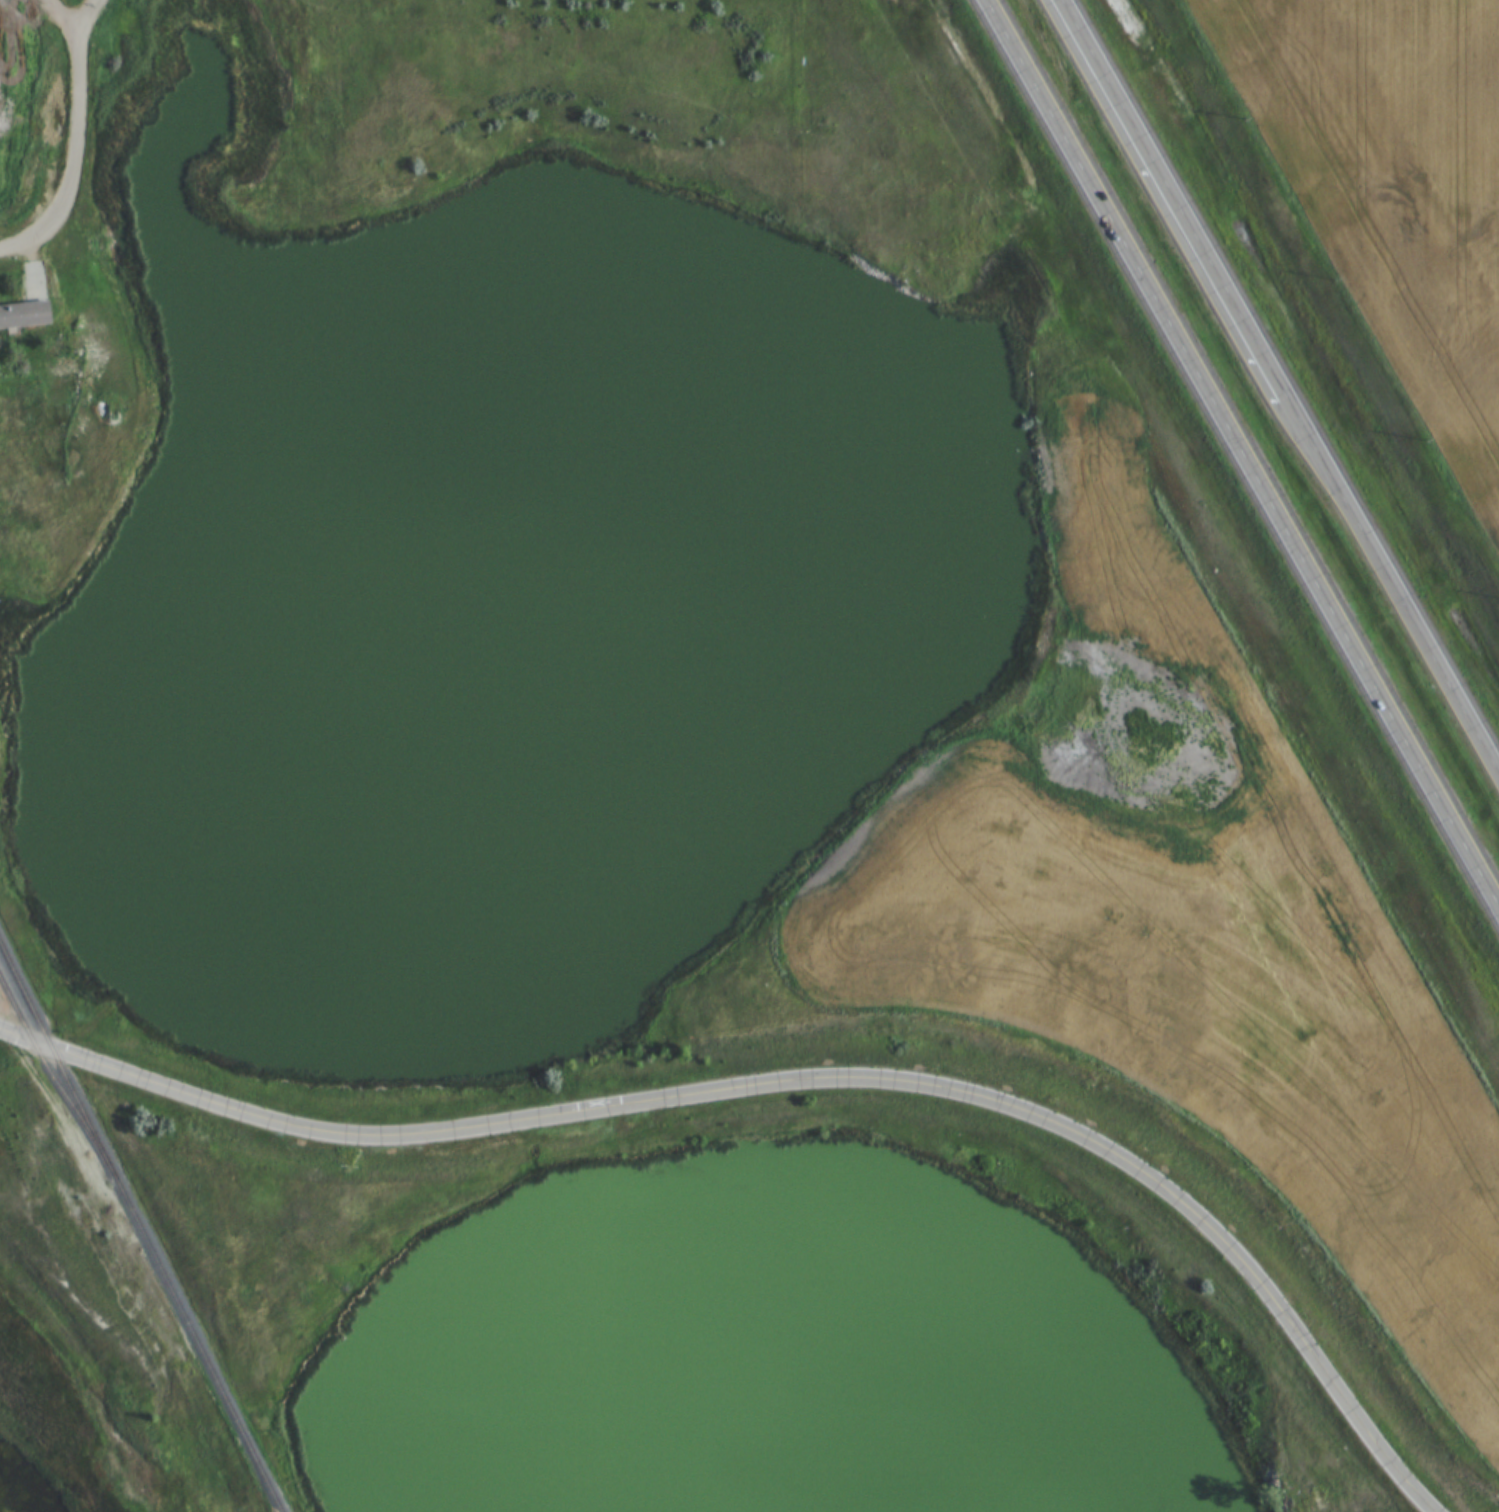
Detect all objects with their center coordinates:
road: (63, 15)
road: (76, 142)
road: (1170, 194)
building: (25, 314)
road: (1242, 452)
road: (1389, 581)
road: (798, 1079)
railway: (135, 1221)

